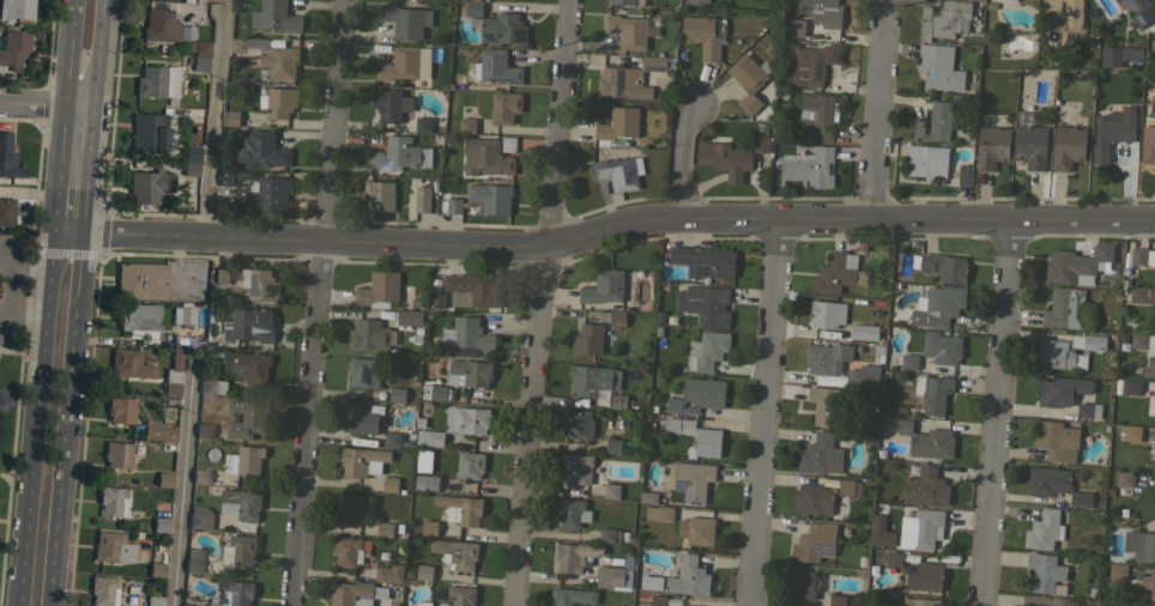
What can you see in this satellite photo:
rooftop solar panel: (1129, 0)
building: (622, 1)
building: (696, 2)
building: (473, 7)
building: (16, 8)
building: (818, 8)
building: (1066, 11)
building: (1137, 11)
rooftop solar panel: (1145, 11)
building: (276, 17)
rooftop solar panel: (1142, 18)
building: (944, 19)
building: (405, 20)
building: (159, 25)
building: (503, 29)
building: (627, 30)
building: (794, 30)
rooftop solar panel: (520, 31)
building: (703, 34)
rooftop solar panel: (490, 35)
building: (237, 44)
building: (199, 47)
building: (13, 48)
road: (95, 53)
rooftop solar panel: (837, 55)
building: (1119, 55)
rooftop solar panel: (817, 59)
building: (280, 60)
building: (198, 62)
building: (653, 62)
rooftop solar panel: (484, 63)
building: (814, 63)
building: (403, 65)
building: (496, 67)
building: (939, 67)
rooftop solar panel: (653, 68)
rooftop solar panel: (816, 68)
rooftop solar panel: (610, 71)
rooftop solar panel: (610, 79)
building: (749, 79)
building: (158, 81)
building: (628, 81)
rooftop solar panel: (619, 83)
road: (64, 92)
building: (278, 102)
road: (44, 103)
building: (391, 103)
building: (504, 107)
road: (879, 107)
building: (816, 116)
building: (230, 117)
road: (212, 122)
building: (936, 122)
building: (422, 123)
building: (467, 125)
building: (617, 125)
road: (89, 127)
building: (1112, 131)
building: (149, 132)
building: (508, 144)
building: (761, 144)
building: (1148, 144)
building: (1030, 145)
building: (991, 146)
building: (1068, 146)
building: (261, 149)
building: (192, 152)
building: (399, 154)
building: (488, 157)
building: (7, 158)
road: (684, 158)
building: (726, 158)
building: (935, 164)
building: (804, 166)
building: (191, 168)
building: (619, 171)
building: (231, 176)
building: (149, 184)
road: (83, 190)
building: (241, 190)
building: (271, 194)
building: (379, 194)
building: (490, 196)
building: (422, 199)
building: (454, 205)
road: (54, 208)
building: (6, 213)
road: (603, 228)
traffic signals: (53, 231)
traffic signals: (80, 232)
building: (1142, 256)
building: (705, 260)
building: (1075, 262)
building: (945, 267)
road: (30, 271)
building: (839, 272)
building: (220, 275)
building: (1154, 275)
building: (141, 280)
building: (259, 283)
parking lot: (10, 286)
road: (10, 286)
building: (604, 286)
building: (379, 290)
building: (472, 290)
building: (1142, 295)
building: (437, 299)
road: (318, 302)
road: (543, 302)
building: (705, 304)
building: (943, 304)
building: (1065, 308)
building: (183, 314)
building: (827, 314)
road: (25, 316)
building: (409, 317)
building: (617, 317)
building: (140, 319)
building: (252, 323)
road: (22, 328)
building: (864, 332)
building: (369, 334)
building: (467, 334)
building: (415, 335)
building: (588, 339)
park: (10, 340)
building: (1143, 341)
building: (942, 347)
road: (10, 350)
building: (707, 350)
building: (1069, 351)
building: (827, 357)
building: (909, 360)
building: (129, 363)
building: (250, 366)
building: (1148, 371)
building: (362, 372)
building: (468, 372)
building: (173, 374)
building: (864, 374)
building: (593, 380)
building: (212, 386)
building: (1131, 386)
building: (1059, 390)
building: (436, 392)
building: (705, 392)
building: (933, 393)
building: (397, 394)
building: (618, 401)
building: (675, 404)
building: (827, 406)
building: (120, 410)
road: (767, 410)
building: (1088, 410)
building: (1154, 410)
road: (997, 412)
building: (362, 417)
road: (35, 418)
building: (246, 418)
road: (64, 419)
building: (466, 420)
building: (579, 424)
building: (903, 426)
building: (204, 430)
building: (158, 431)
building: (1132, 432)
building: (696, 435)
building: (433, 437)
building: (392, 438)
building: (1056, 440)
building: (933, 443)
building: (613, 446)
building: (818, 453)
building: (117, 454)
building: (246, 460)
building: (363, 461)
building: (470, 465)
building: (1154, 465)
building: (577, 468)
road: (4, 475)
building: (200, 475)
building: (164, 479)
road: (186, 479)
building: (690, 479)
building: (1125, 479)
rooftop solar panel: (670, 481)
building: (430, 483)
rooftop solar panel: (679, 483)
building: (389, 484)
building: (1056, 485)
building: (848, 486)
building: (926, 487)
building: (611, 490)
rooftop solar panel: (687, 495)
building: (648, 497)
rooftop solar panel: (695, 499)
building: (812, 499)
building: (113, 501)
building: (241, 503)
building: (349, 507)
building: (461, 509)
building: (1154, 511)
building: (572, 513)
building: (659, 513)
building: (200, 517)
building: (161, 525)
building: (429, 527)
building: (924, 527)
building: (385, 529)
building: (696, 529)
building: (1044, 529)
building: (878, 533)
building: (609, 535)
building: (815, 543)
rooftop solar panel: (816, 545)
building: (1139, 545)
rooftop solar panel: (829, 546)
building: (113, 547)
building: (242, 549)
building: (349, 551)
building: (455, 553)
building: (574, 556)
building: (893, 559)
building: (193, 560)
building: (157, 569)
building: (424, 571)
building: (1045, 571)
building: (1118, 571)
building: (389, 574)
building: (612, 577)
building: (688, 577)
building: (925, 577)
building: (648, 584)
building: (802, 584)
building: (1147, 584)
building: (103, 590)
building: (235, 593)
building: (350, 594)
building: (461, 595)
building: (570, 595)
building: (153, 600)
building: (658, 600)
building: (836, 600)
building: (920, 602)
building: (1069, 602)
building: (423, 604)
building: (188, 605)
building: (684, 605)
building: (1028, 605)

